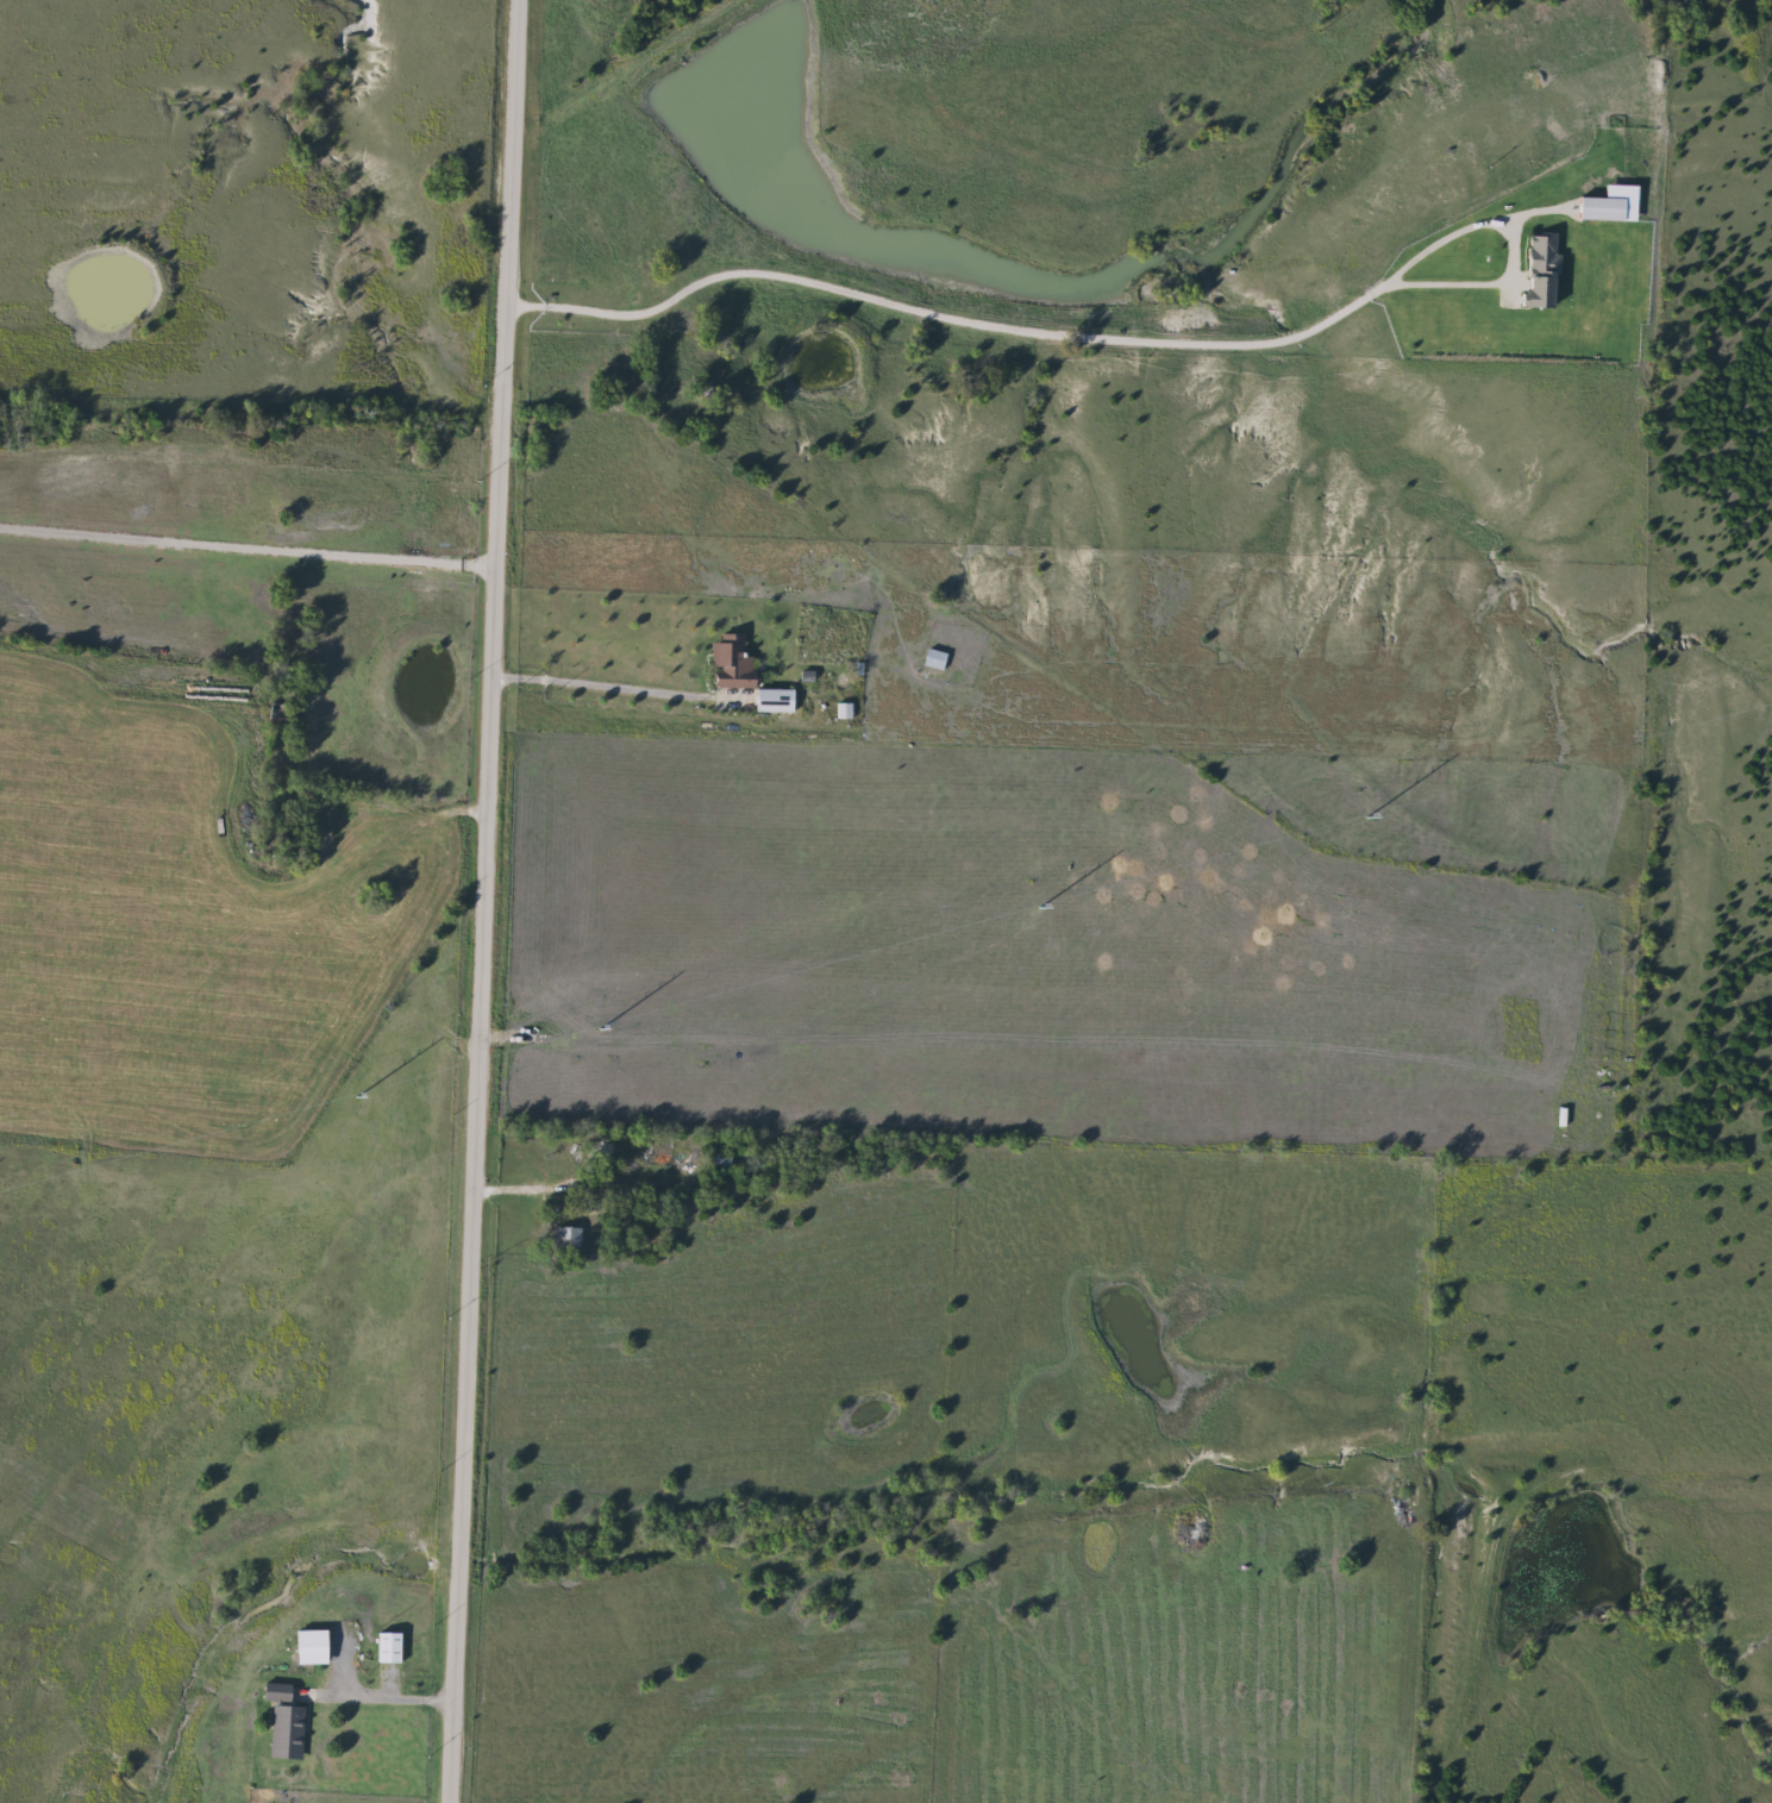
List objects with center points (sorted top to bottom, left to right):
building: (1534, 298)
road: (1028, 330)
road: (245, 538)
building: (932, 659)
building: (728, 662)
road: (594, 674)
power tower: (1346, 801)
power tower: (1020, 890)
road: (480, 901)
power tower: (576, 1012)
power tower: (330, 1079)
road: (538, 1187)
building: (566, 1240)
building: (307, 1646)
building: (275, 1694)
road: (375, 1696)
building: (284, 1732)

